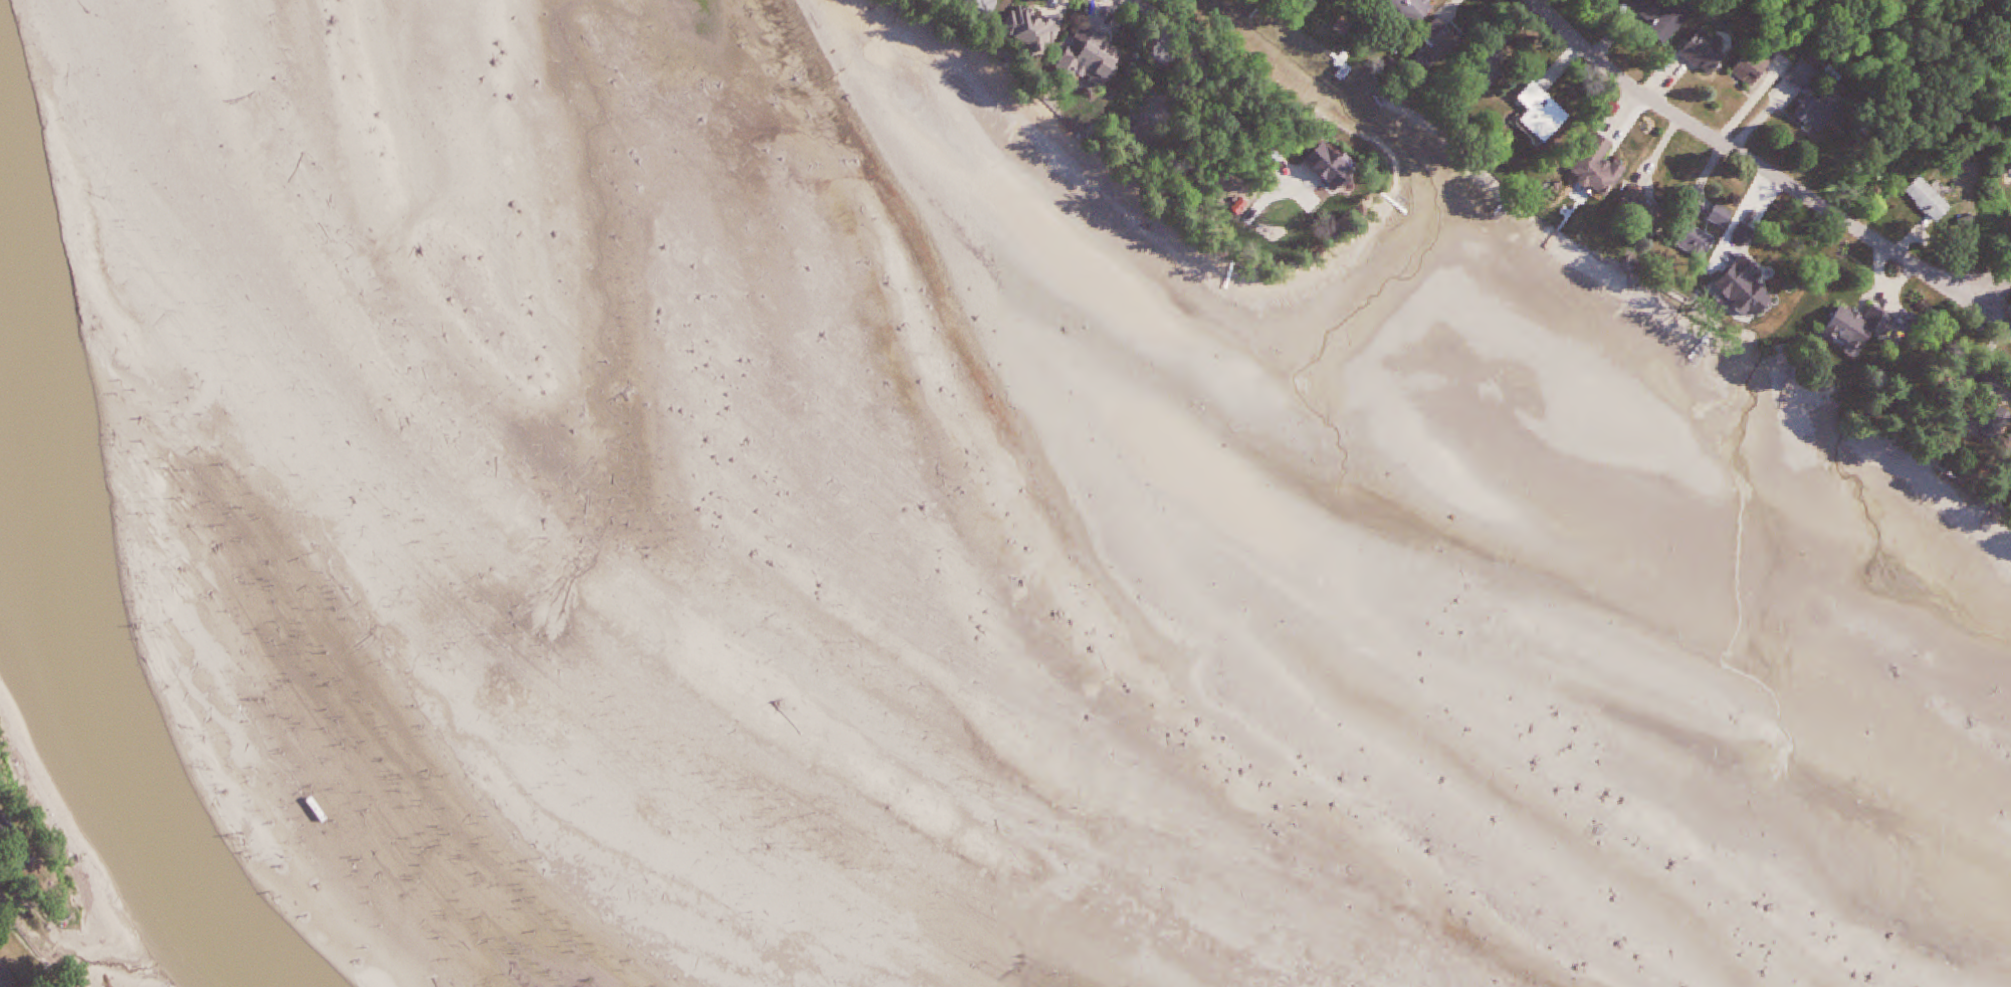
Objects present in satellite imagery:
road: (1135, 2)
building: (985, 5)
building: (1416, 10)
building: (1656, 17)
road: (1981, 19)
building: (1037, 29)
building: (1444, 36)
building: (1698, 54)
building: (1099, 58)
building: (1749, 67)
building: (1534, 114)
building: (1810, 114)
building: (1591, 170)
road: (1767, 175)
building: (1922, 201)
building: (1627, 202)
road: (1999, 304)
building: (1851, 329)
building: (1983, 395)
building: (2007, 463)
river: (71, 696)
building: (9, 828)
building: (0, 951)
building: (8, 974)

